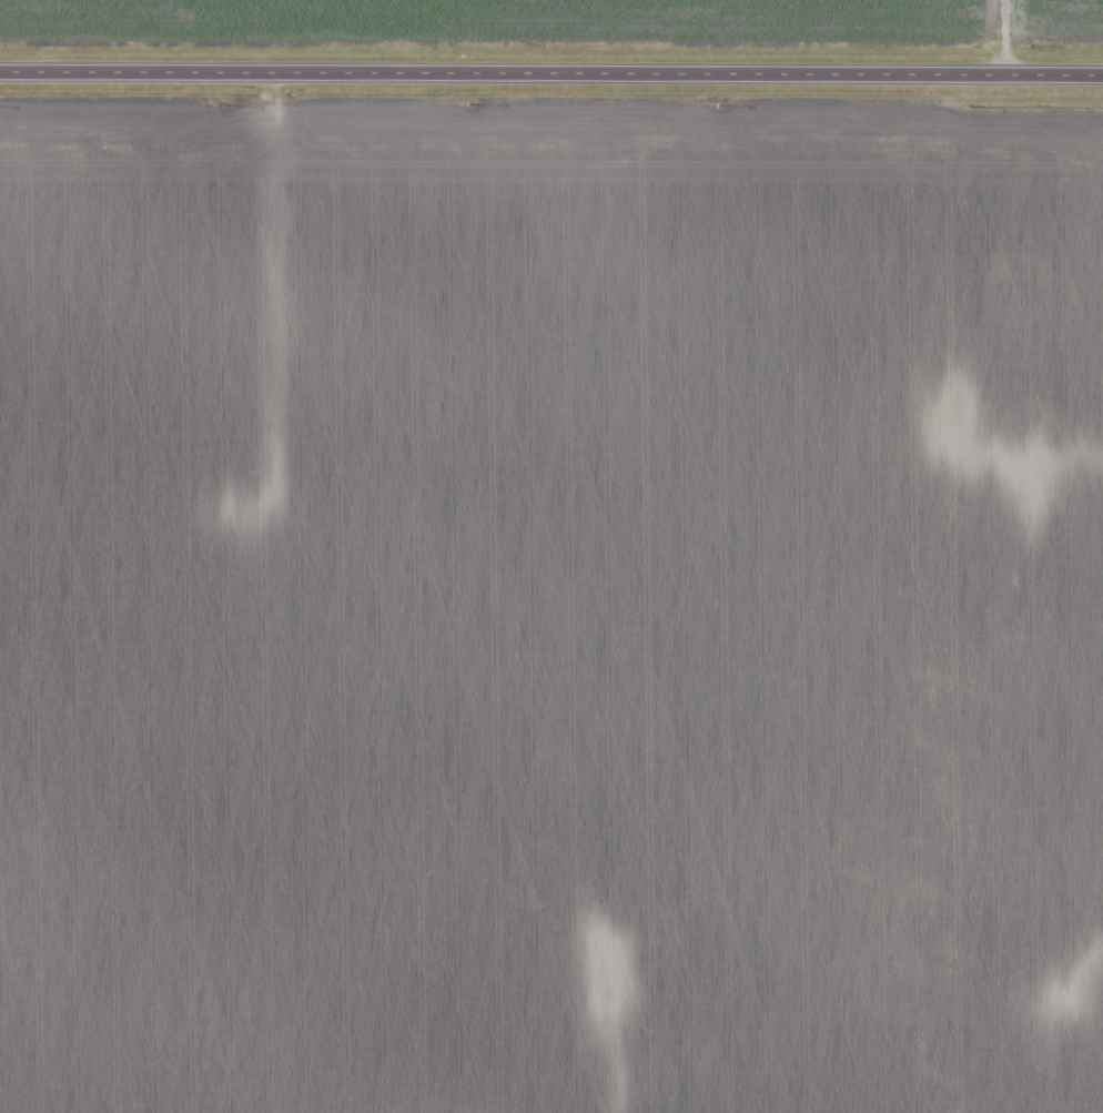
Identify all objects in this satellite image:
road: (551, 72)

